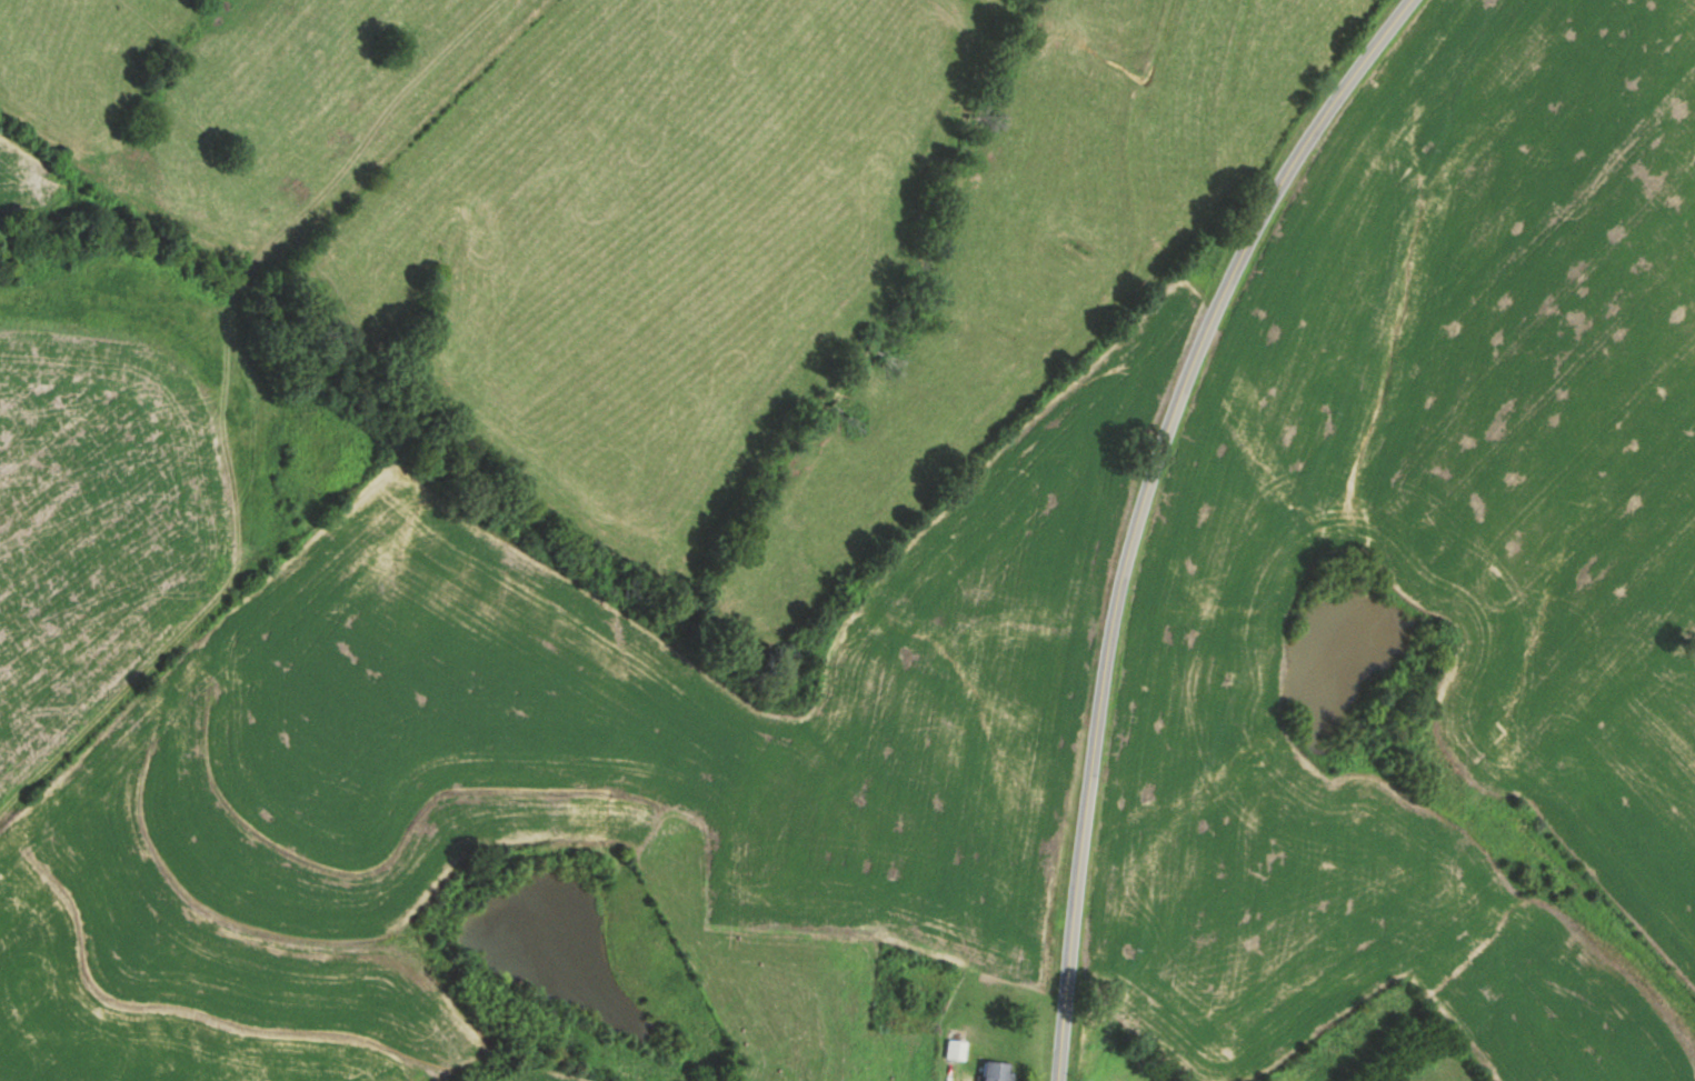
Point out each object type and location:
road: (1145, 508)
building: (957, 1049)
building: (998, 1071)

